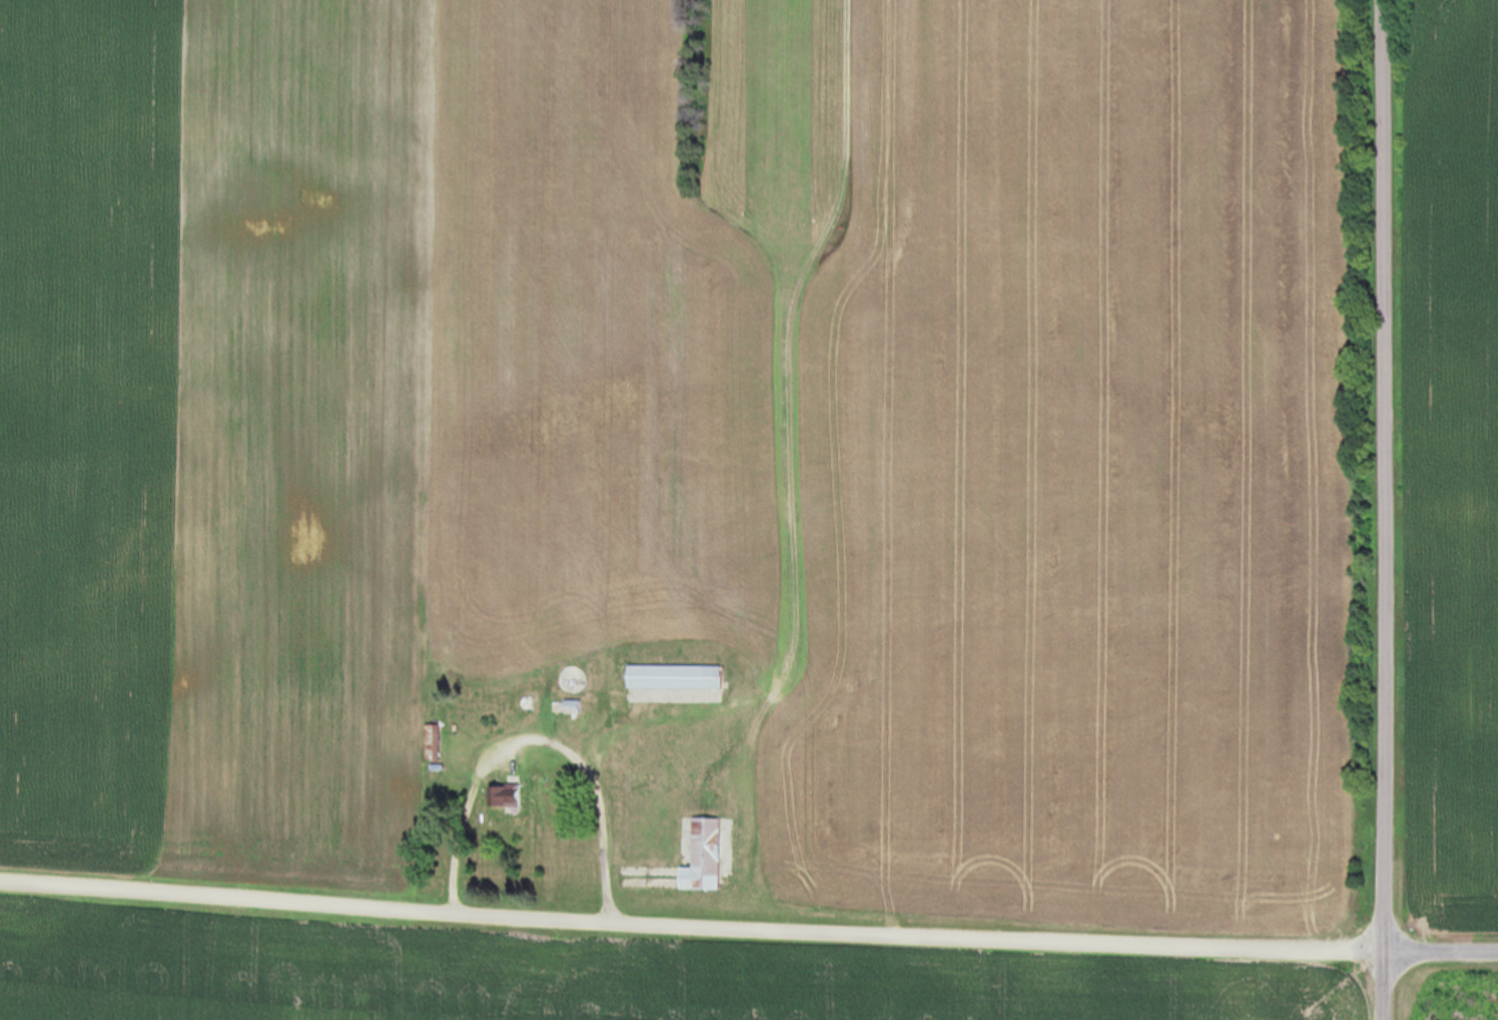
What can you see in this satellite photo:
airport runway: (782, 99)
road: (1388, 472)
building: (679, 677)
building: (434, 743)
building: (507, 796)
building: (709, 855)
road: (692, 914)
road: (1442, 944)
road: (1386, 982)

